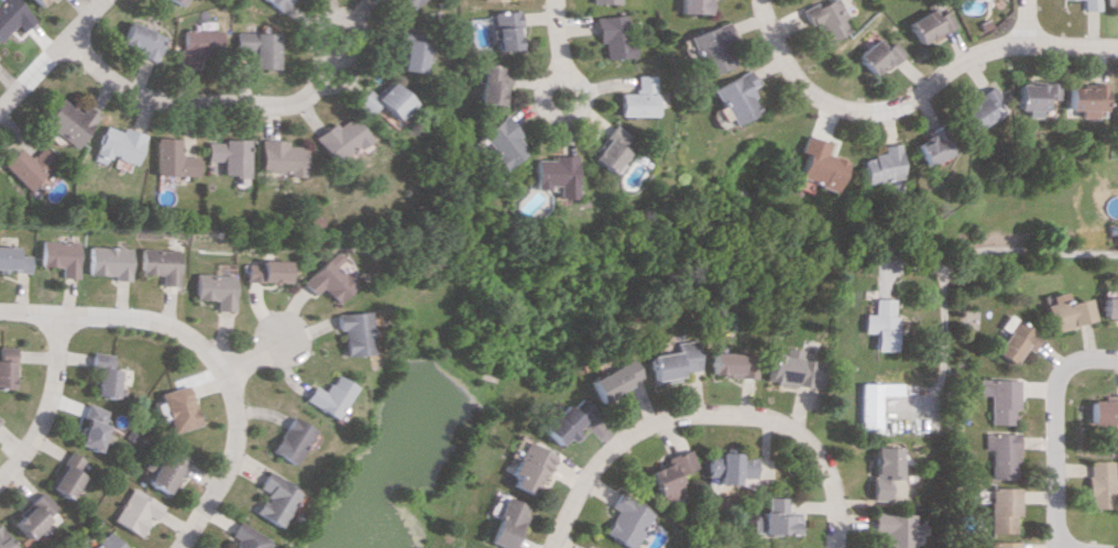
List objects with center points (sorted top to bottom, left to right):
building: (493, 0)
building: (180, 1)
building: (605, 1)
building: (37, 2)
building: (277, 3)
building: (402, 3)
building: (1088, 4)
building: (1111, 4)
building: (692, 6)
building: (11, 15)
building: (821, 20)
road: (1022, 21)
road: (745, 22)
building: (923, 24)
building: (503, 30)
building: (612, 35)
building: (142, 40)
building: (201, 44)
road: (1093, 45)
building: (260, 47)
building: (709, 47)
road: (553, 48)
road: (48, 52)
building: (405, 52)
building: (872, 55)
road: (766, 66)
road: (972, 67)
building: (489, 84)
road: (911, 90)
building: (1030, 96)
building: (733, 97)
building: (637, 98)
building: (1084, 99)
road: (207, 100)
building: (379, 100)
road: (919, 106)
building: (978, 108)
building: (1116, 109)
road: (818, 116)
building: (68, 121)
road: (884, 122)
building: (337, 140)
building: (500, 142)
building: (118, 144)
building: (930, 145)
building: (606, 149)
building: (228, 155)
building: (278, 157)
building: (172, 158)
building: (815, 164)
building: (880, 164)
building: (25, 165)
building: (552, 174)
building: (59, 256)
road: (946, 259)
building: (12, 260)
building: (109, 261)
road: (912, 262)
building: (160, 264)
building: (265, 271)
building: (327, 278)
building: (213, 288)
building: (1109, 308)
building: (1066, 310)
building: (879, 324)
building: (351, 332)
building: (1017, 340)
road: (255, 350)
road: (208, 351)
building: (672, 361)
building: (733, 364)
building: (4, 366)
building: (794, 369)
building: (101, 375)
building: (612, 379)
building: (326, 396)
building: (999, 397)
road: (47, 399)
building: (177, 407)
building: (868, 407)
building: (1104, 409)
road: (706, 412)
building: (563, 421)
building: (90, 427)
road: (1054, 429)
building: (287, 439)
building: (999, 453)
building: (528, 465)
building: (732, 467)
building: (885, 470)
building: (164, 471)
building: (672, 474)
building: (63, 475)
building: (1098, 483)
building: (274, 498)
building: (999, 508)
building: (133, 511)
building: (30, 514)
building: (778, 518)
building: (626, 520)
building: (504, 523)
building: (896, 528)
building: (243, 537)
building: (105, 541)
building: (2, 542)
building: (999, 544)
building: (759, 547)

